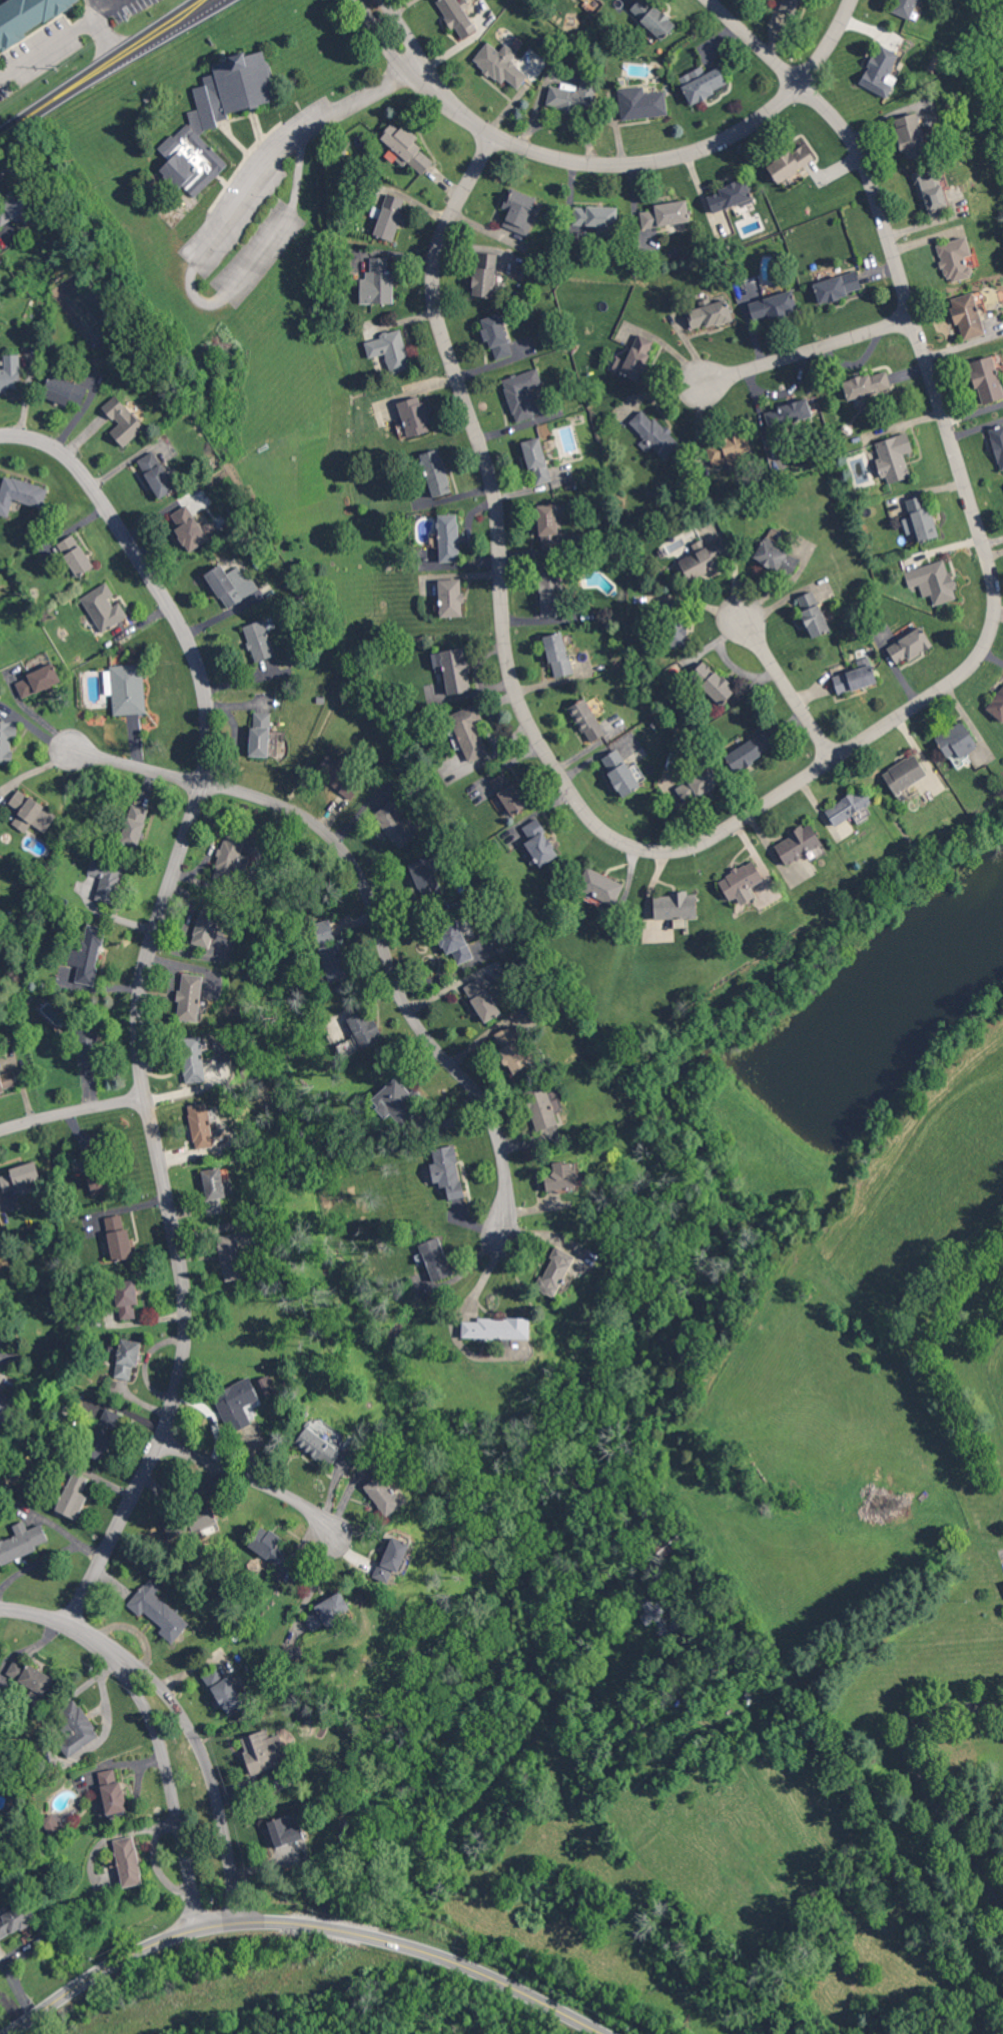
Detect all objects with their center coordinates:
building: (792, 6)
building: (906, 7)
building: (456, 16)
building: (30, 17)
building: (653, 17)
road: (755, 41)
building: (486, 55)
road: (102, 66)
building: (881, 71)
building: (702, 83)
road: (362, 96)
building: (574, 98)
building: (645, 103)
road: (458, 111)
building: (215, 117)
building: (911, 135)
building: (406, 146)
road: (688, 150)
building: (790, 162)
building: (933, 192)
building: (729, 196)
building: (15, 208)
building: (665, 214)
building: (517, 215)
building: (388, 216)
building: (594, 216)
building: (956, 258)
building: (484, 281)
building: (377, 282)
building: (837, 287)
road: (201, 301)
building: (772, 306)
building: (969, 314)
building: (709, 315)
road: (808, 346)
building: (390, 350)
building: (635, 358)
building: (9, 371)
building: (990, 378)
building: (866, 385)
building: (65, 390)
building: (522, 395)
building: (787, 413)
building: (414, 416)
building: (122, 420)
building: (652, 434)
building: (998, 441)
building: (727, 449)
building: (896, 455)
building: (536, 461)
building: (435, 472)
building: (156, 474)
building: (20, 493)
building: (922, 519)
building: (549, 525)
building: (209, 527)
building: (188, 528)
building: (448, 537)
building: (75, 555)
building: (703, 558)
building: (776, 558)
building: (932, 581)
building: (231, 584)
building: (549, 593)
building: (451, 597)
building: (104, 607)
building: (813, 613)
building: (680, 634)
building: (259, 640)
building: (910, 645)
building: (558, 654)
building: (453, 669)
building: (856, 676)
building: (37, 680)
building: (712, 682)
building: (128, 688)
road: (788, 688)
building: (997, 704)
building: (587, 720)
building: (469, 732)
building: (260, 734)
building: (956, 739)
building: (7, 740)
building: (750, 750)
road: (138, 765)
building: (620, 772)
building: (697, 784)
building: (340, 785)
building: (507, 793)
building: (849, 807)
road: (747, 811)
building: (30, 812)
building: (394, 825)
building: (132, 829)
building: (539, 843)
building: (799, 844)
building: (231, 856)
building: (425, 877)
building: (106, 878)
building: (740, 882)
building: (602, 888)
building: (676, 906)
building: (206, 926)
building: (324, 931)
building: (455, 943)
building: (87, 954)
building: (334, 961)
road: (389, 973)
road: (144, 976)
building: (189, 997)
building: (482, 999)
building: (364, 1028)
building: (88, 1047)
building: (511, 1050)
building: (193, 1059)
building: (7, 1079)
building: (394, 1102)
building: (543, 1107)
road: (72, 1115)
building: (201, 1125)
building: (447, 1171)
building: (20, 1175)
building: (560, 1176)
building: (213, 1189)
building: (117, 1238)
building: (230, 1256)
building: (432, 1265)
building: (556, 1272)
building: (126, 1298)
building: (497, 1328)
building: (127, 1358)
building: (236, 1403)
building: (4, 1407)
building: (101, 1434)
building: (318, 1446)
building: (76, 1480)
road: (255, 1484)
building: (384, 1494)
building: (71, 1502)
building: (202, 1517)
building: (21, 1542)
building: (267, 1544)
building: (668, 1545)
road: (48, 1558)
building: (392, 1559)
road: (78, 1605)
road: (35, 1610)
building: (157, 1610)
building: (327, 1612)
building: (657, 1618)
road: (84, 1638)
building: (28, 1679)
building: (224, 1690)
building: (76, 1728)
building: (262, 1750)
road: (203, 1767)
road: (922, 1779)
road: (167, 1784)
building: (111, 1792)
building: (127, 1861)
building: (15, 1919)
road: (303, 1925)

